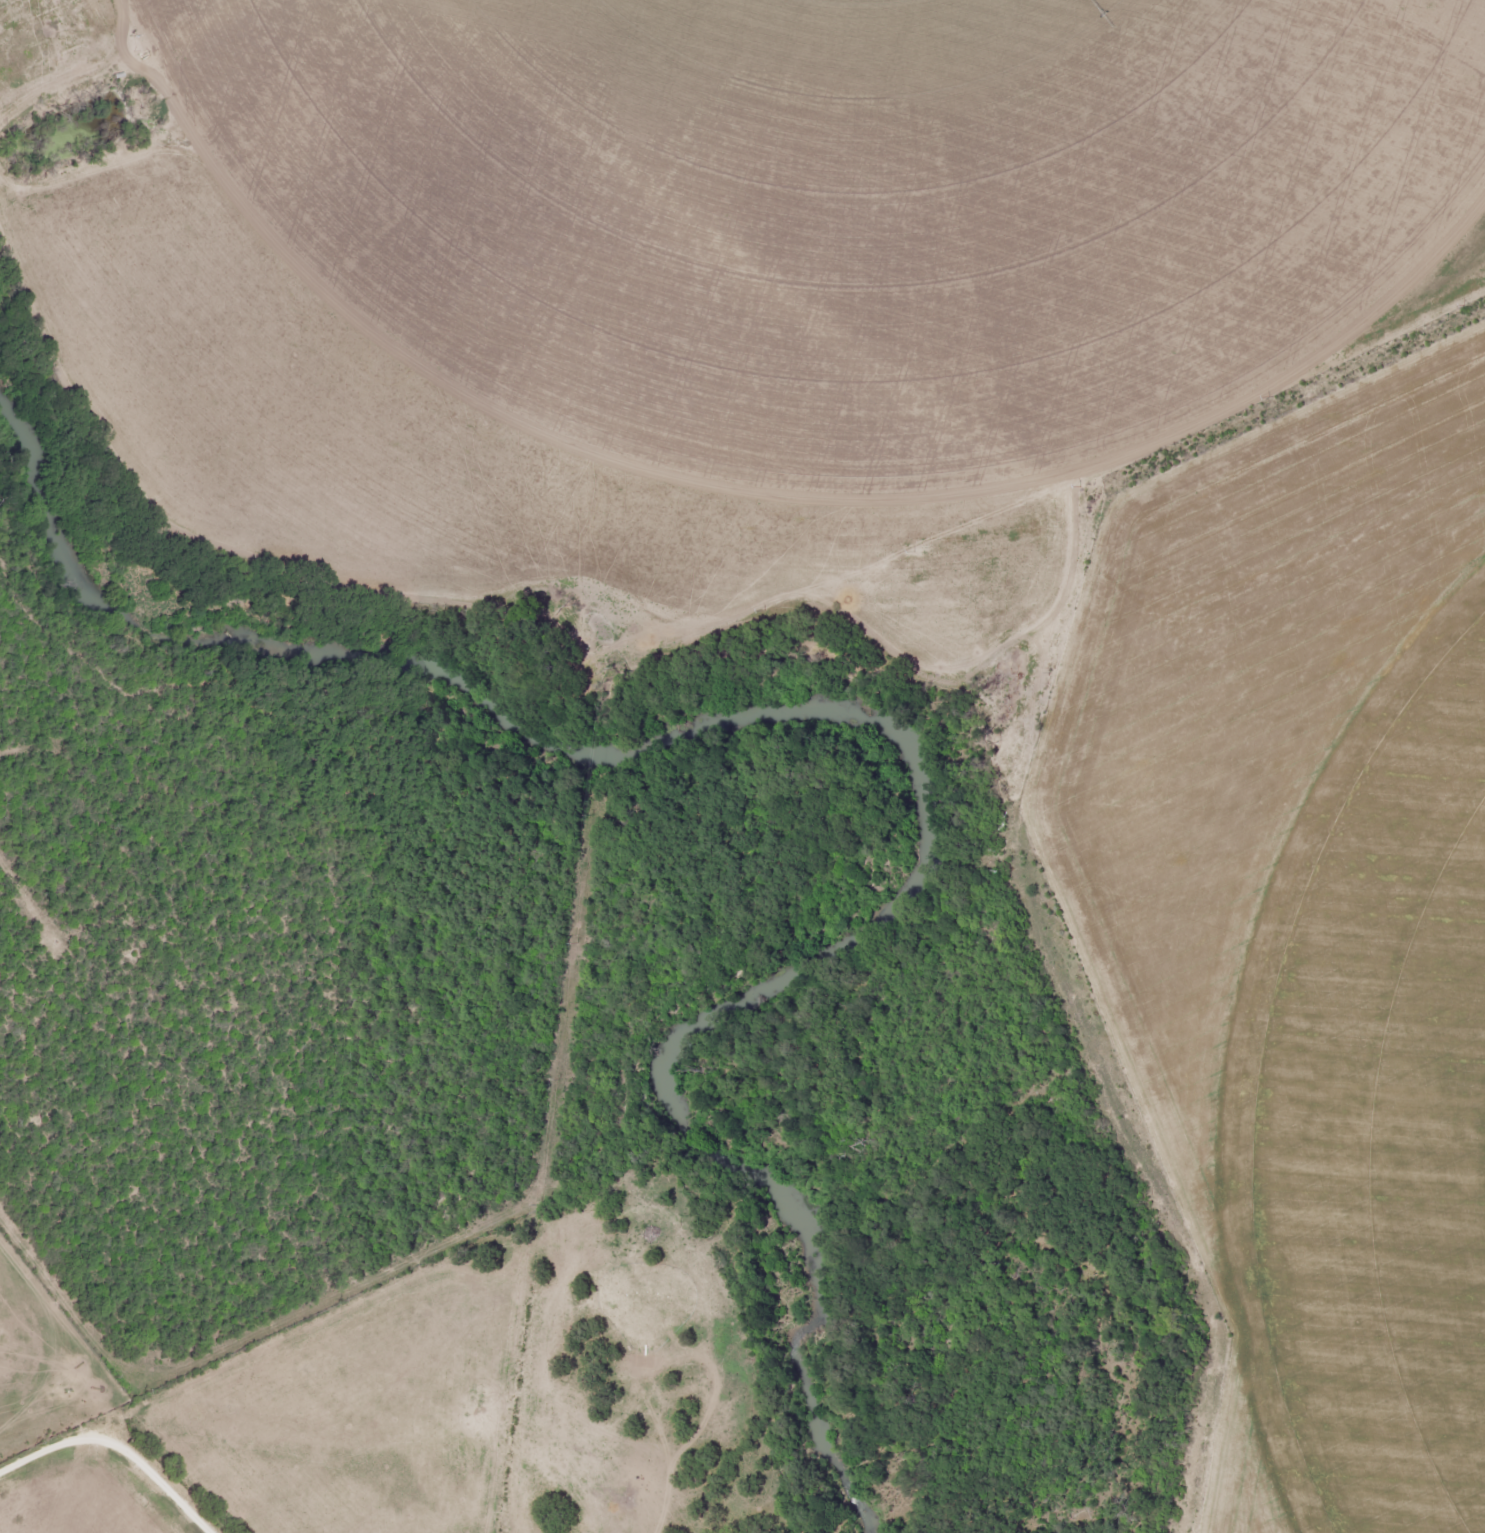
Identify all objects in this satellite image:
river: (910, 744)
road: (122, 1443)

